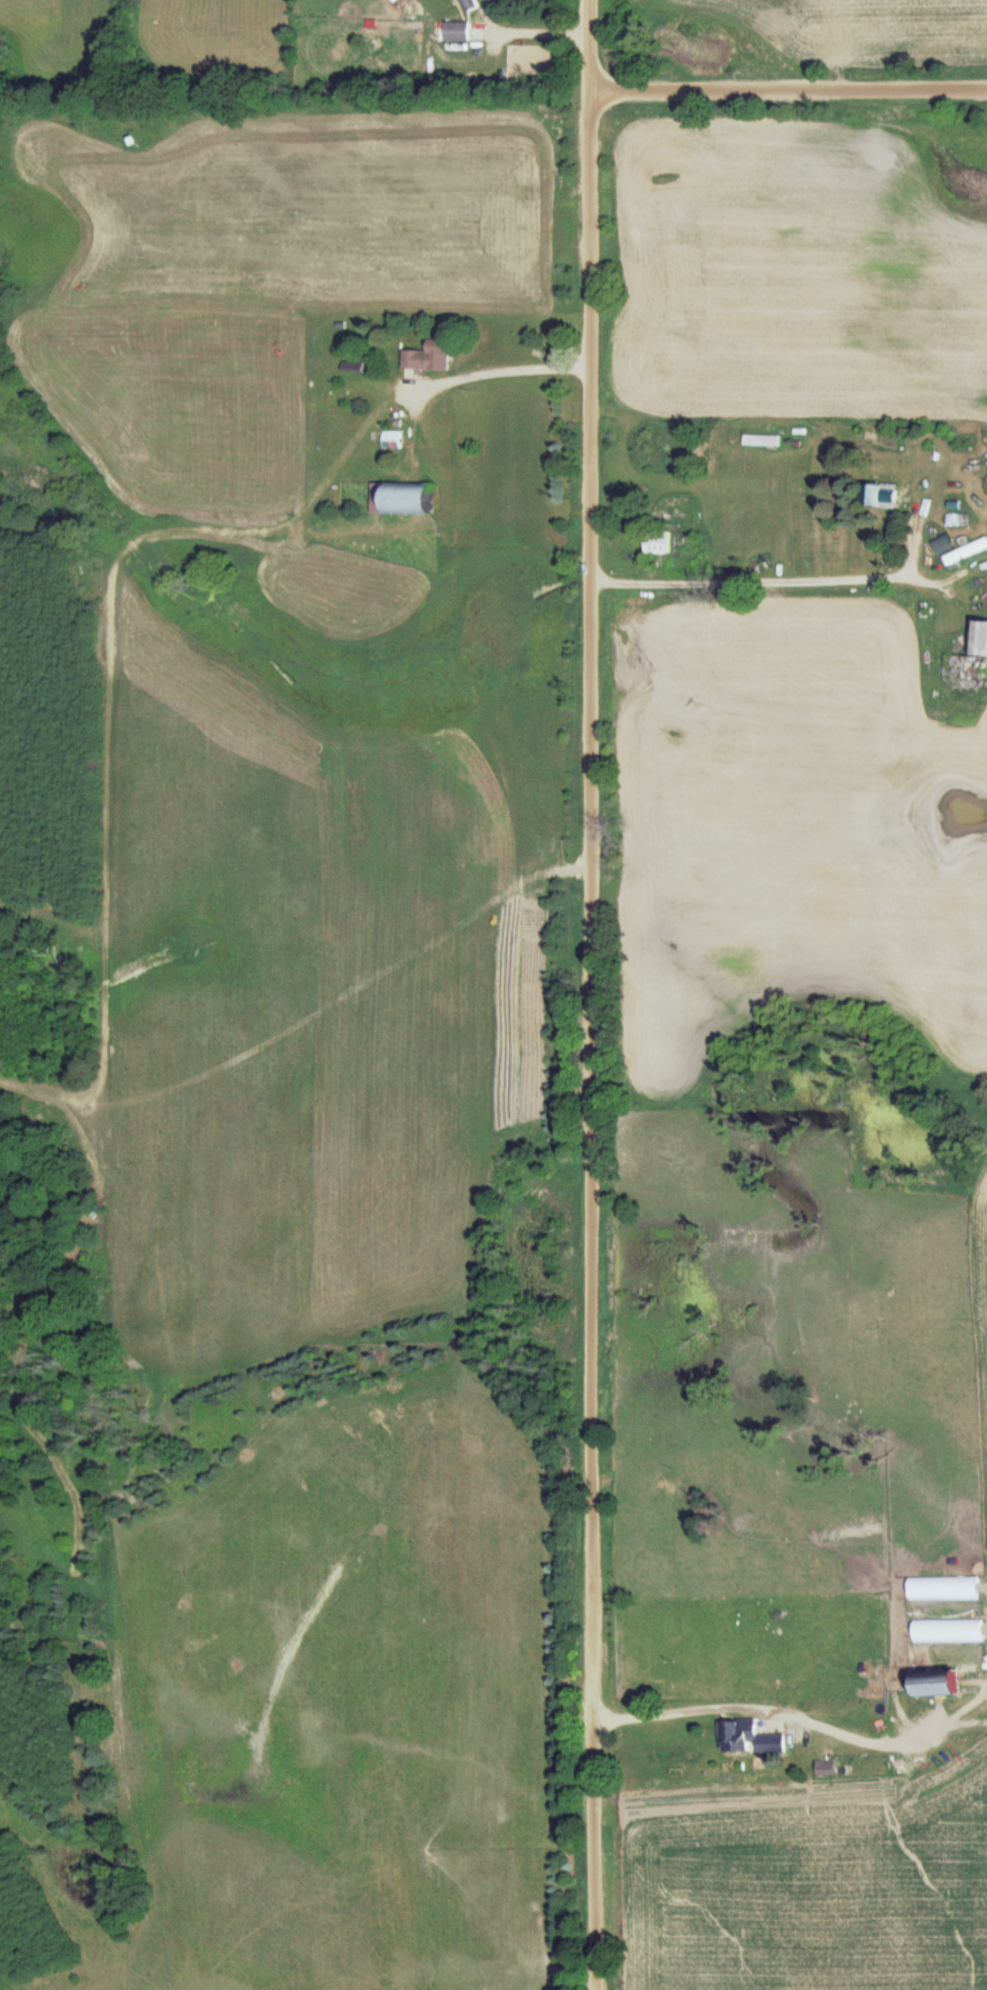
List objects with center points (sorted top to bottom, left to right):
building: (469, 5)
building: (455, 32)
road: (592, 45)
road: (789, 88)
building: (427, 357)
road: (498, 369)
building: (392, 436)
building: (762, 441)
building: (878, 496)
building: (404, 498)
building: (657, 542)
building: (966, 553)
road: (755, 583)
building: (965, 658)
road: (595, 1039)
building: (933, 1683)
road: (693, 1709)
building: (753, 1737)
building: (824, 1768)

